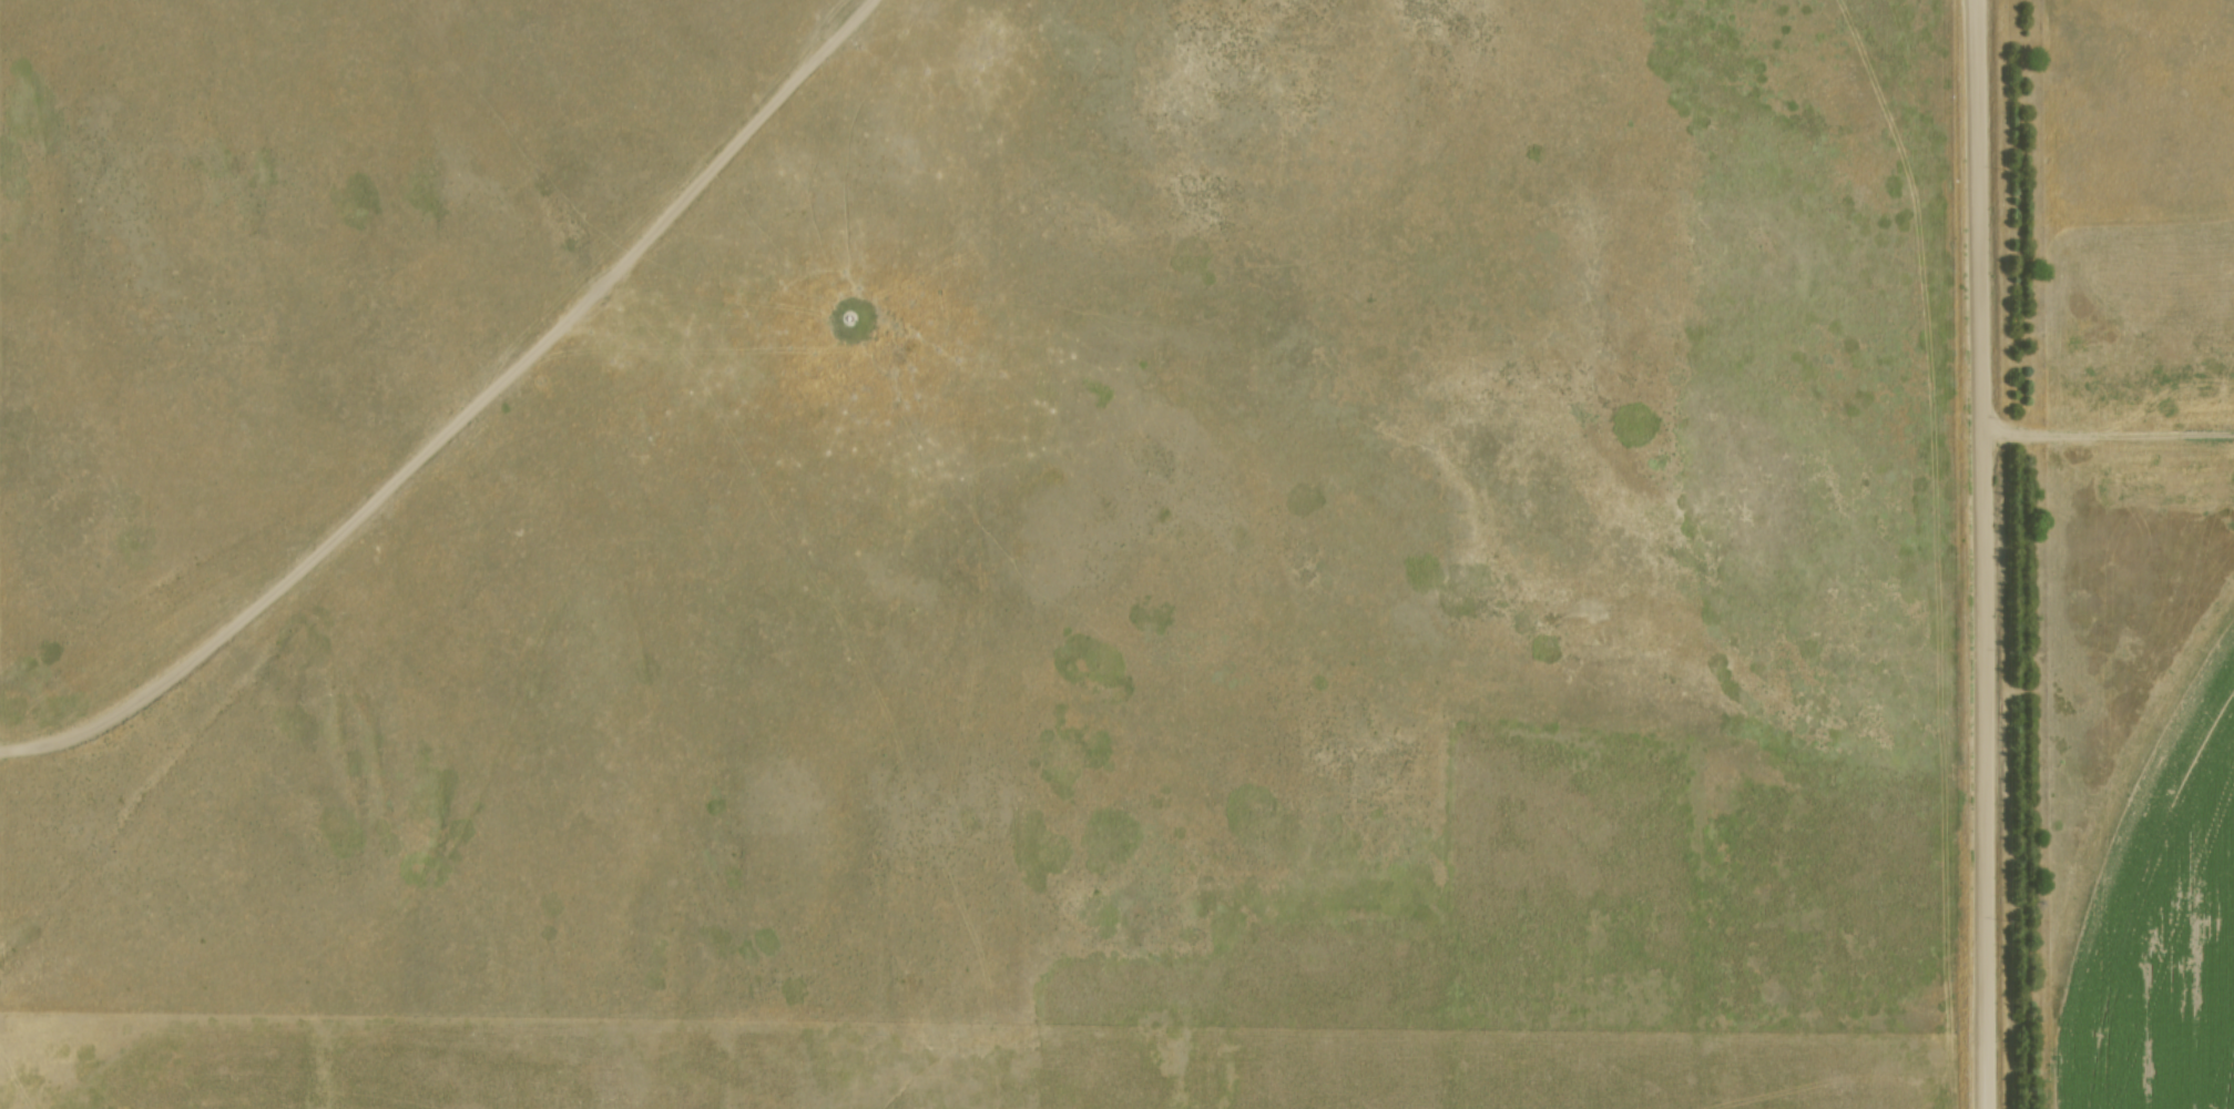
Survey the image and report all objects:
road: (458, 413)
road: (1976, 553)
crop: (2164, 932)

